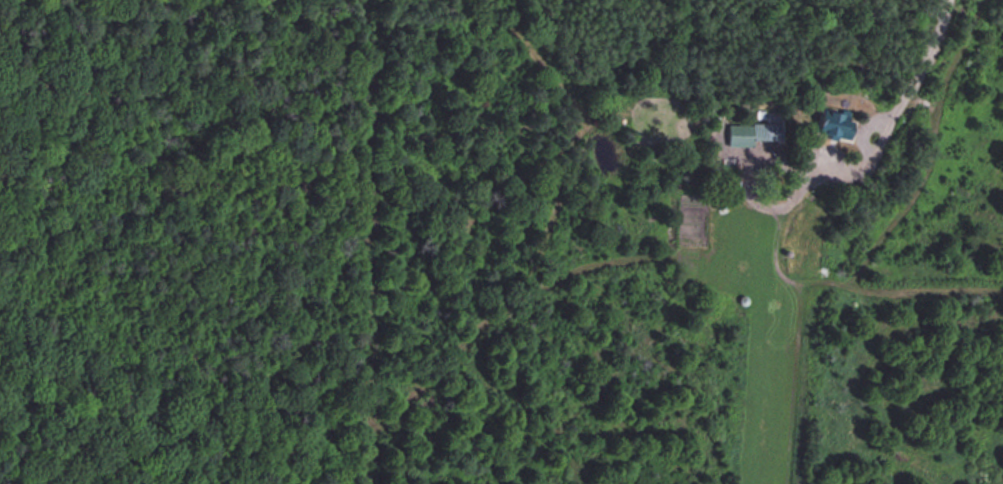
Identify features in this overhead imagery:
road: (925, 55)
building: (833, 121)
building: (764, 127)
road: (860, 144)

